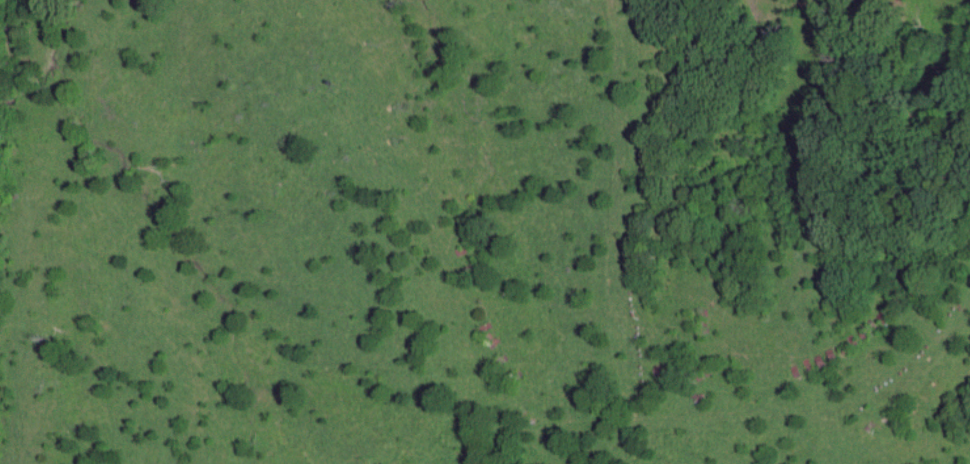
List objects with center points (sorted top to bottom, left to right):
road: (626, 356)

